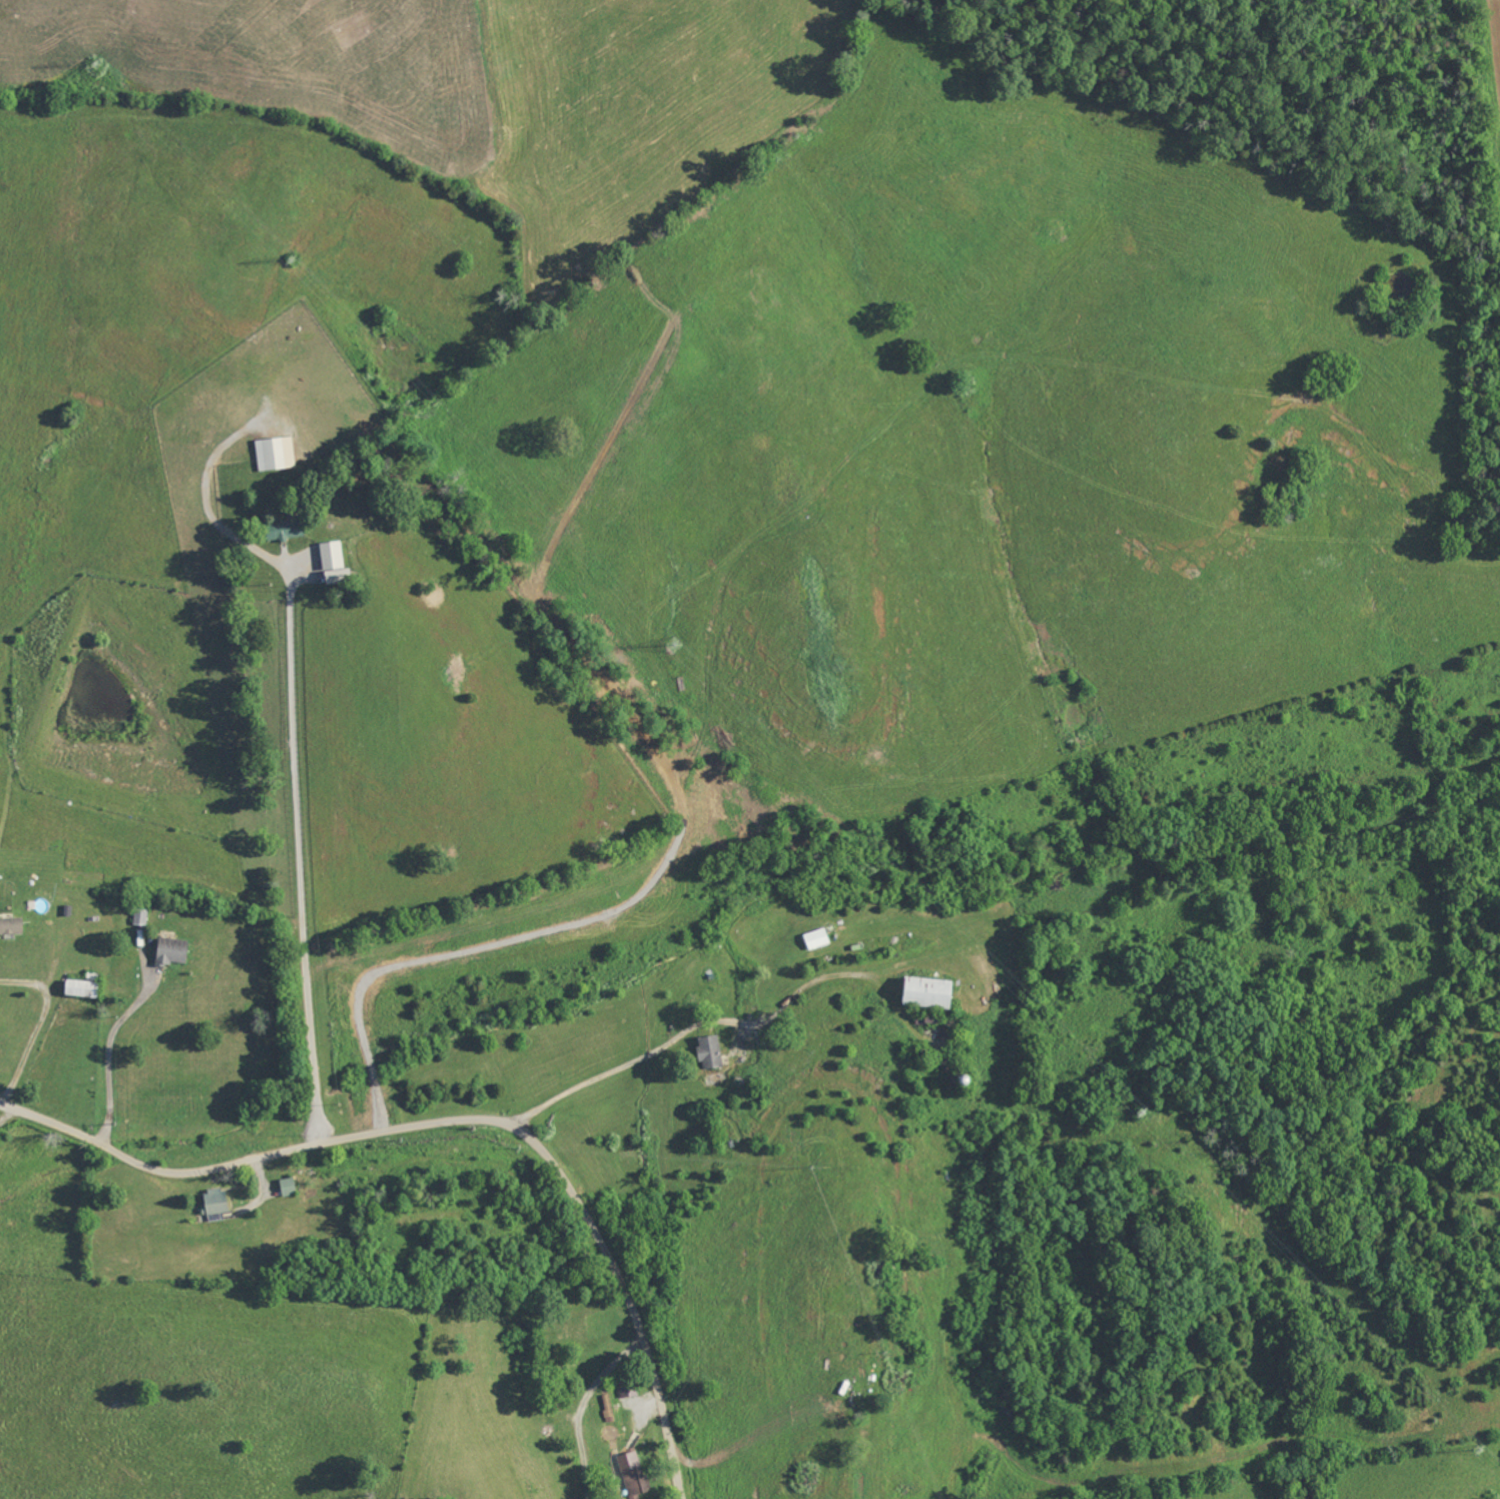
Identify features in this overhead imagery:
power tower: (94, 63)
power tower: (288, 259)
building: (276, 454)
building: (285, 530)
building: (335, 564)
power tower: (673, 645)
road: (300, 859)
building: (11, 925)
building: (817, 938)
building: (173, 951)
building: (84, 986)
building: (928, 992)
road: (38, 1022)
building: (710, 1052)
road: (109, 1056)
road: (592, 1065)
road: (7, 1114)
power tower: (1140, 1114)
road: (457, 1119)
road: (266, 1185)
building: (289, 1187)
building: (216, 1205)
building: (628, 1388)
building: (608, 1408)
power tower: (1477, 1450)
building: (633, 1474)

